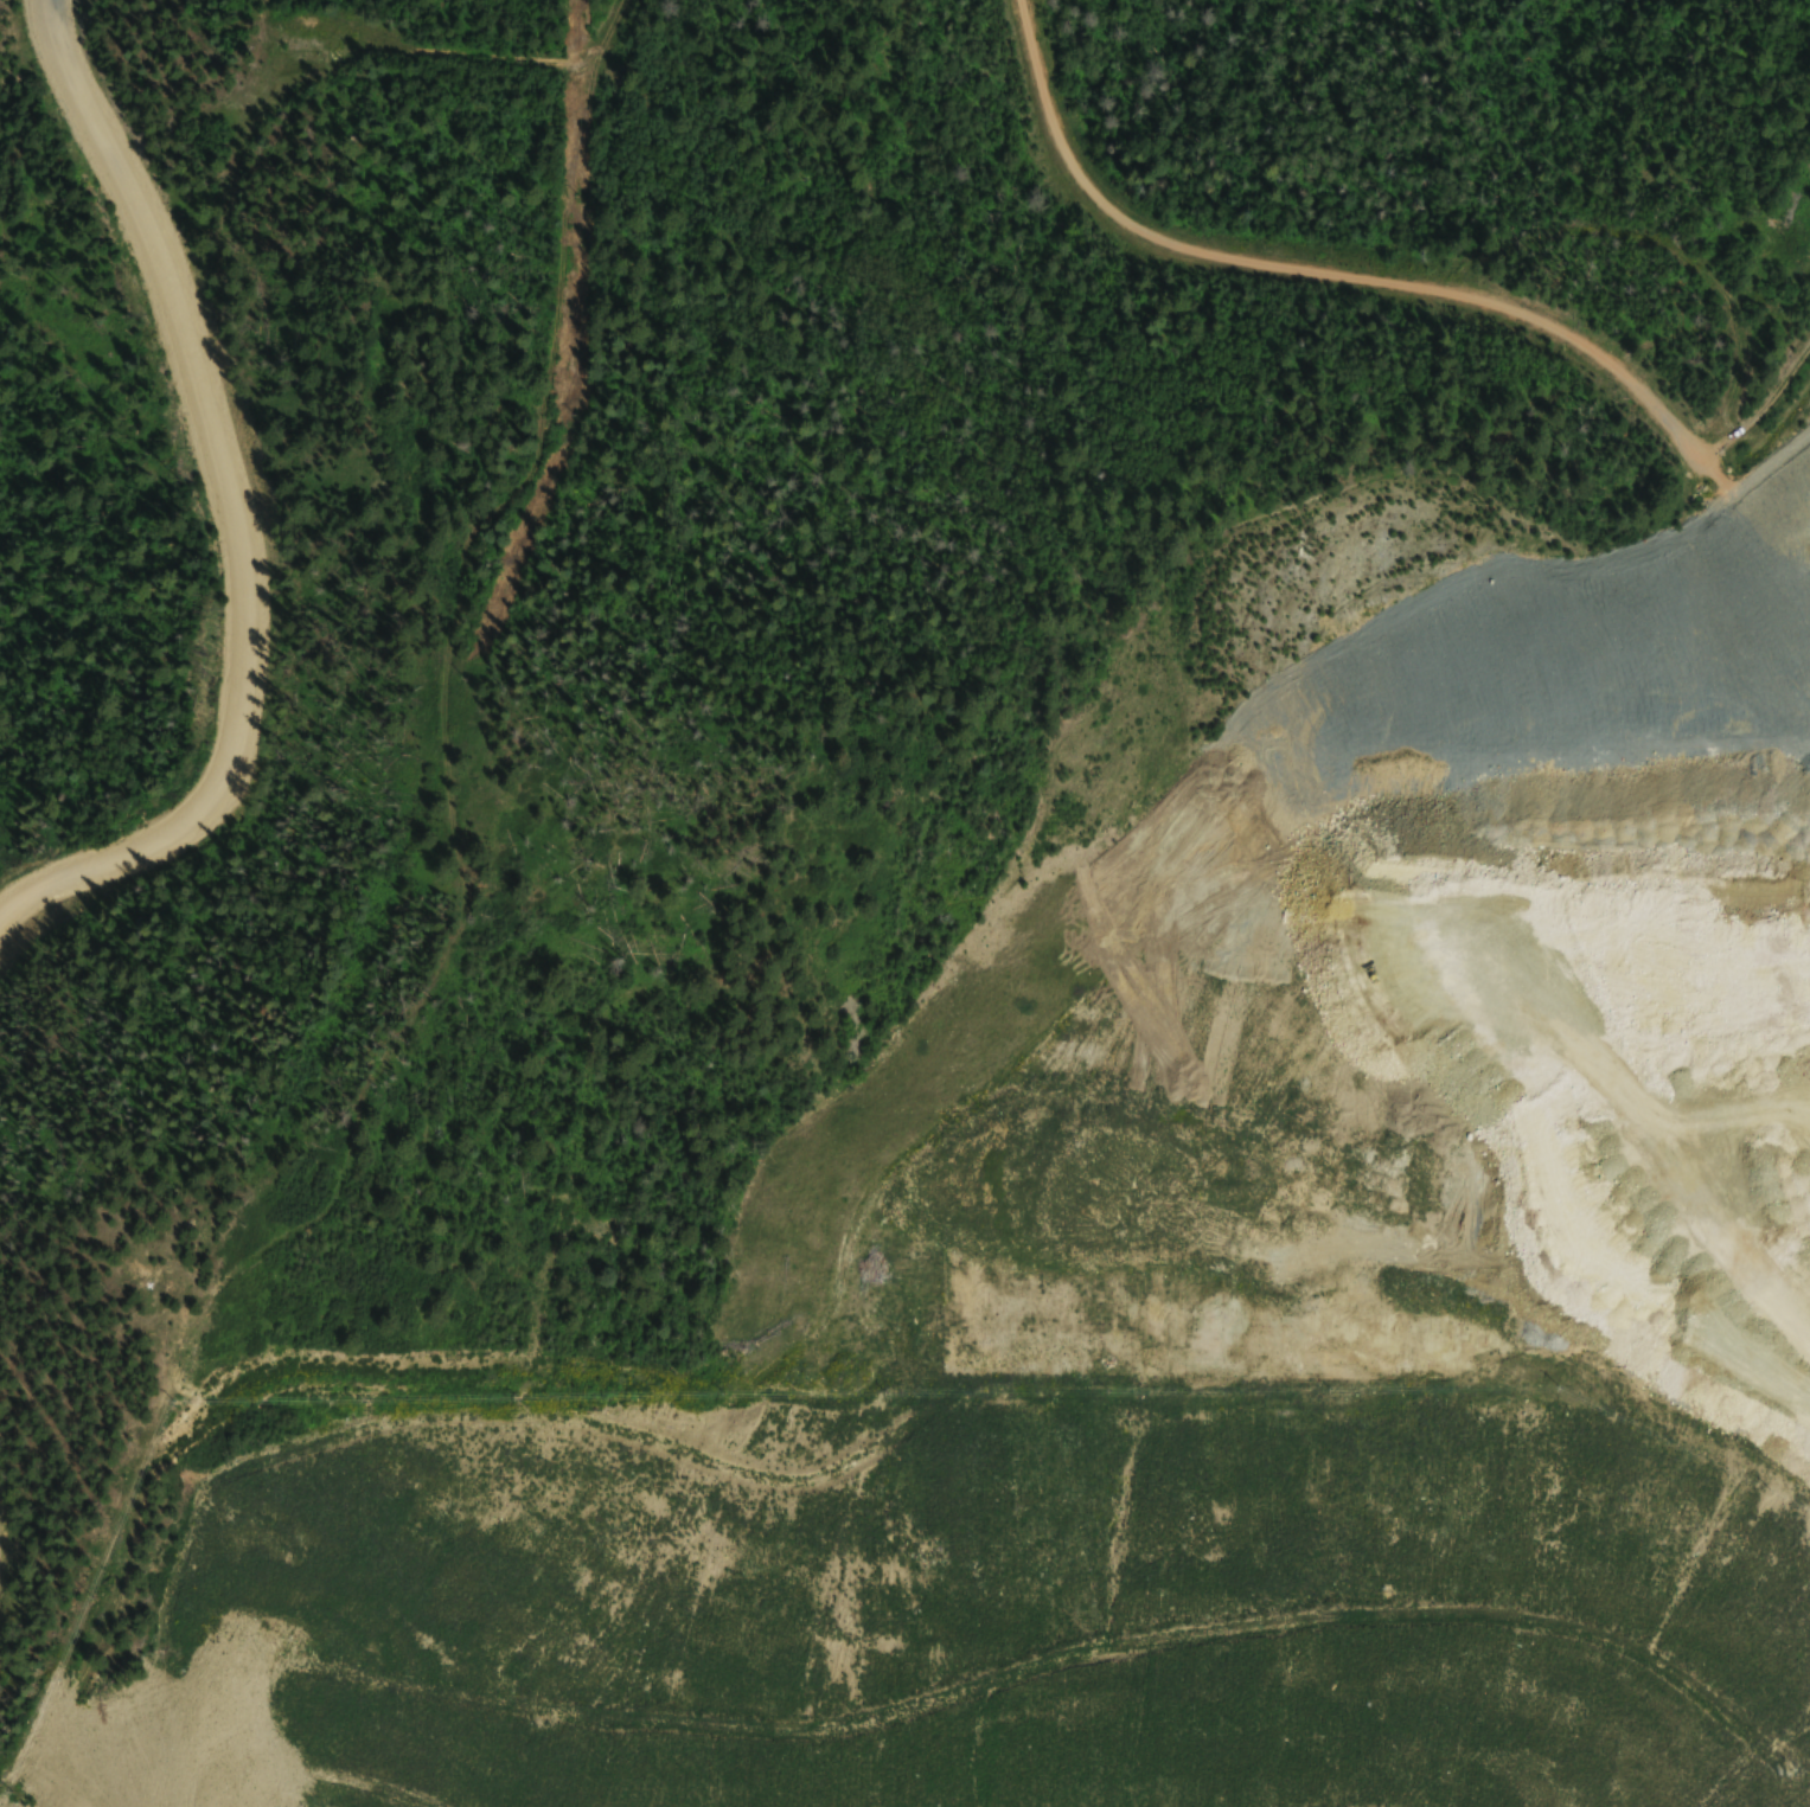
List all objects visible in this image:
road: (1386, 295)
road: (1760, 409)
road: (241, 510)
quarry: (1377, 1156)

